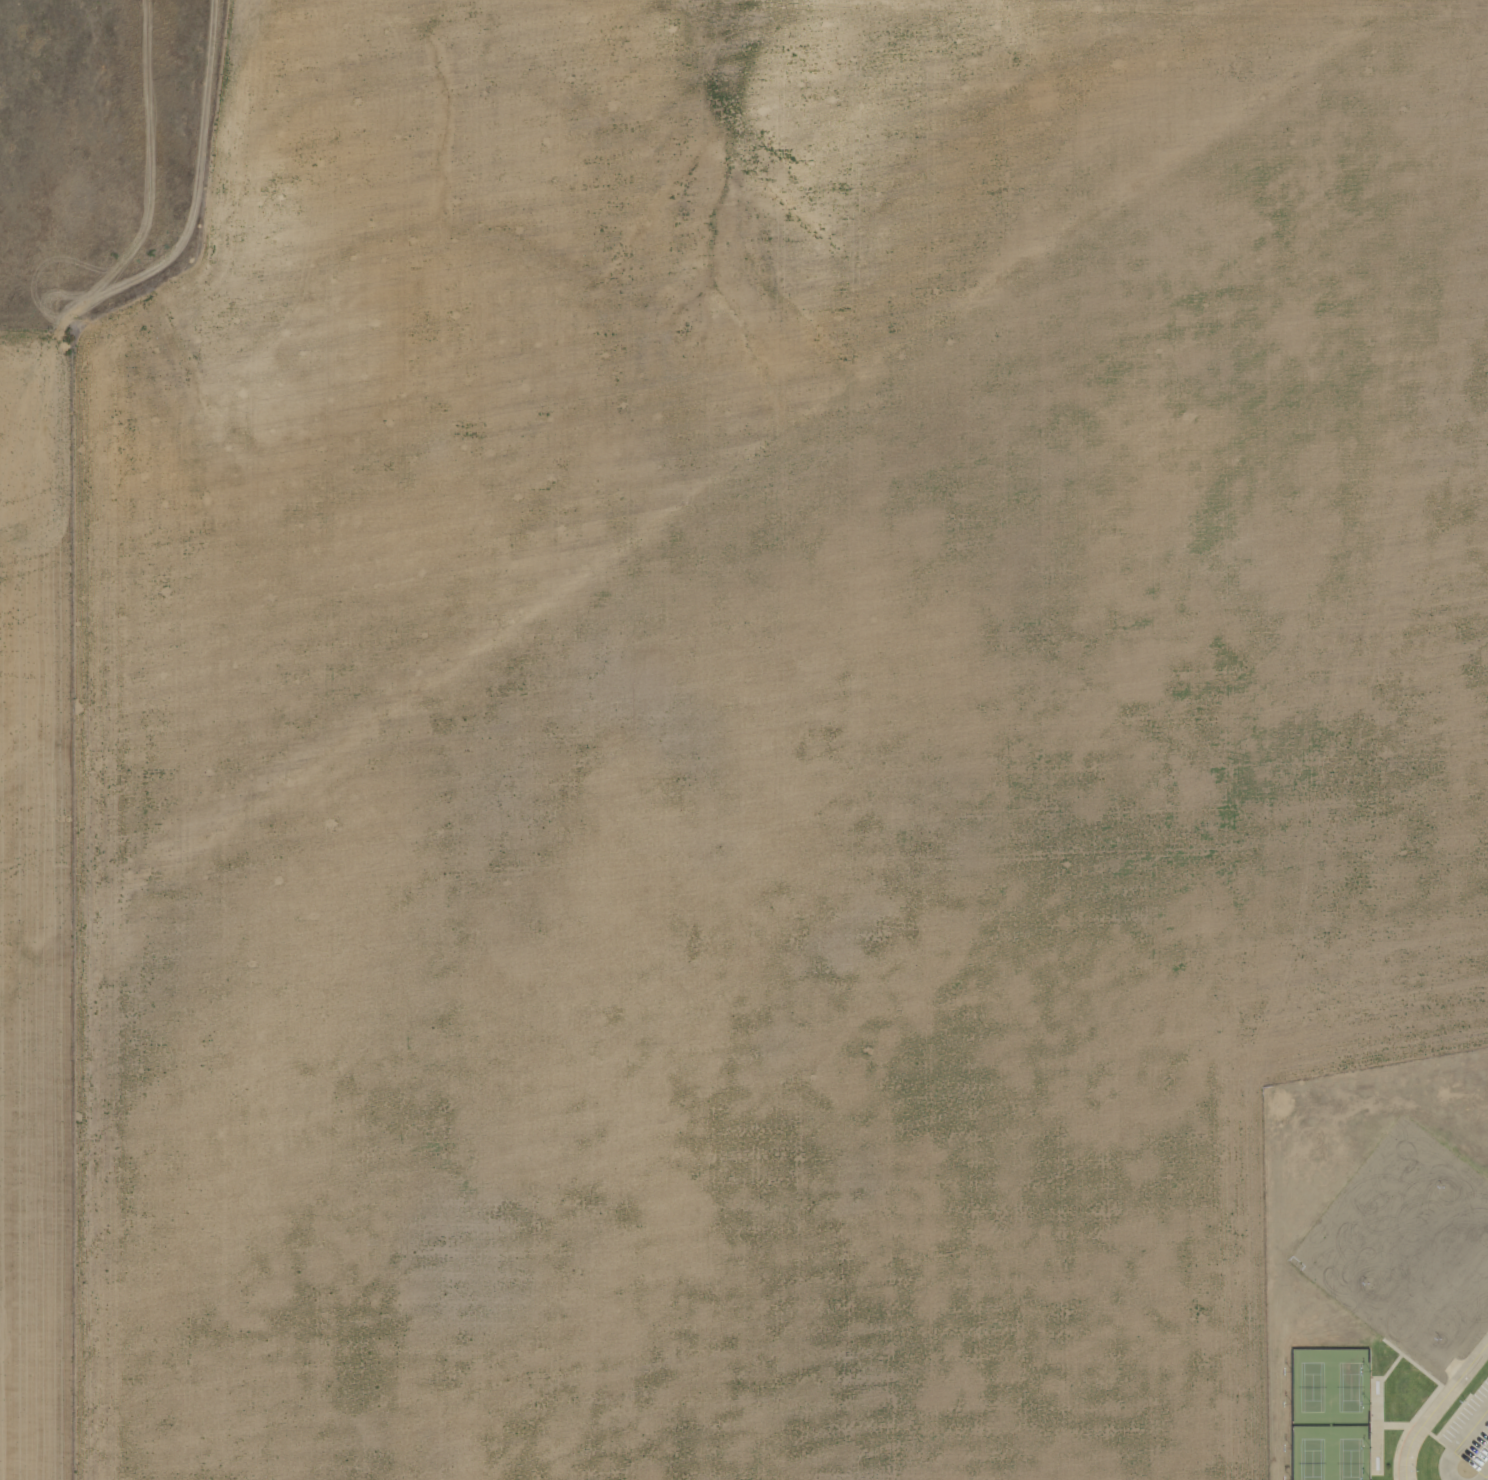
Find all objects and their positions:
road: (1436, 1410)
park: (1327, 1413)
parking lot: (1469, 1428)

